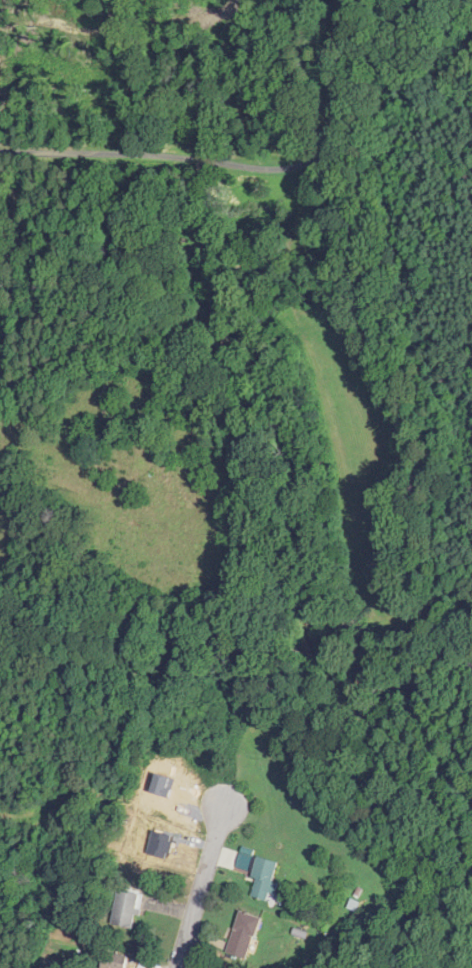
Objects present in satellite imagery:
road: (241, 173)
road: (204, 875)
building: (265, 879)
building: (127, 908)
building: (244, 933)
building: (113, 960)

